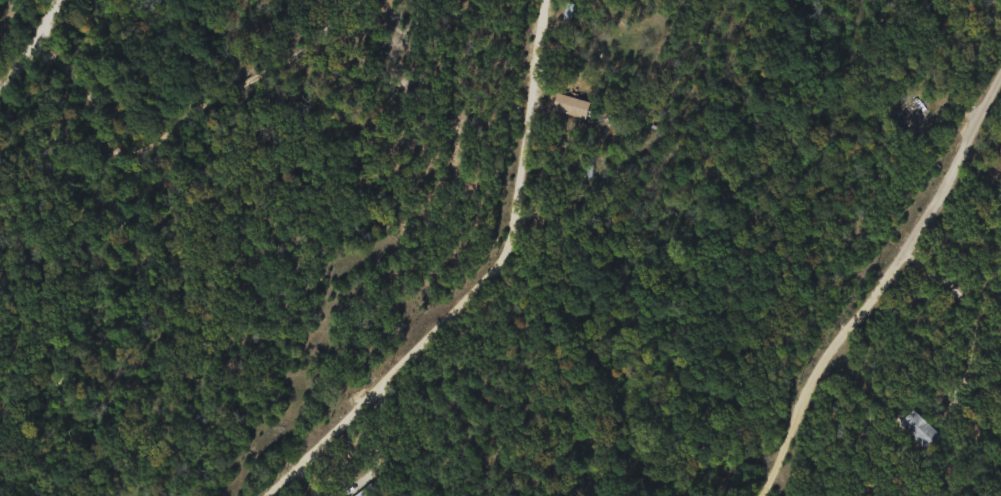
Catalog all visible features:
road: (35, 48)
building: (570, 105)
building: (910, 112)
road: (959, 162)
road: (480, 286)
road: (979, 314)
road: (827, 363)
building: (919, 429)
building: (366, 490)

